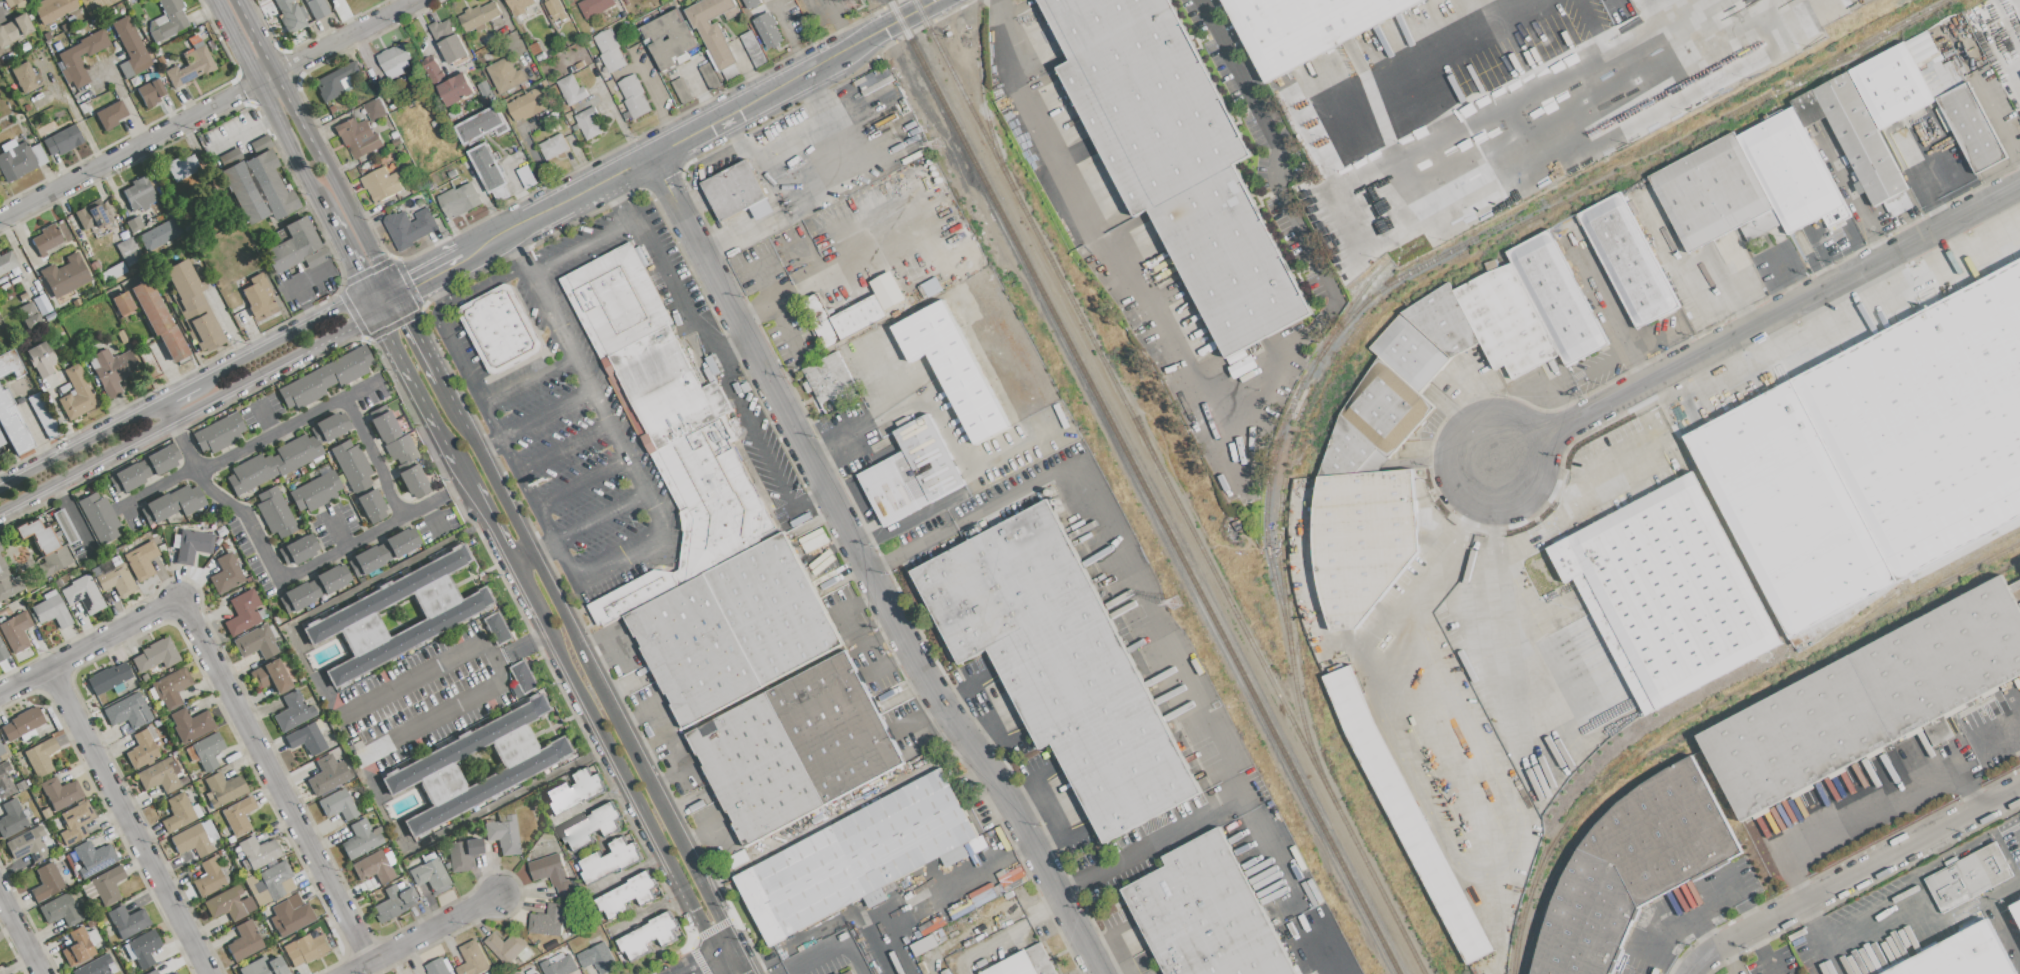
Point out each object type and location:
road: (872, 0)
building: (749, 2)
power tower: (858, 3)
railway: (979, 3)
building: (518, 6)
building: (593, 6)
building: (316, 8)
building: (52, 9)
building: (554, 9)
road: (1786, 9)
building: (290, 14)
building: (478, 15)
building: (167, 20)
building: (1304, 28)
building: (13, 29)
building: (767, 29)
building: (714, 32)
road: (244, 37)
building: (667, 39)
building: (447, 40)
road: (1532, 42)
building: (130, 48)
building: (752, 48)
building: (608, 49)
road: (1436, 57)
building: (393, 59)
road: (1656, 61)
building: (70, 62)
building: (190, 66)
building: (503, 73)
building: (25, 77)
building: (336, 80)
building: (447, 81)
building: (570, 89)
building: (150, 92)
building: (632, 95)
building: (1925, 95)
road: (653, 96)
road: (822, 100)
building: (527, 103)
road: (202, 106)
building: (373, 109)
road: (71, 110)
building: (109, 114)
road: (1996, 119)
building: (587, 122)
building: (481, 124)
road: (700, 128)
road: (242, 133)
building: (356, 136)
building: (61, 140)
building: (552, 145)
power tower: (937, 145)
road: (291, 147)
road: (1275, 148)
road: (750, 151)
building: (18, 159)
building: (1176, 159)
building: (181, 167)
building: (489, 170)
building: (1778, 171)
road: (333, 179)
building: (381, 183)
road: (517, 184)
building: (257, 188)
building: (736, 192)
road: (1451, 192)
building: (138, 194)
road: (1930, 194)
building: (458, 199)
road: (1856, 202)
building: (91, 214)
road: (921, 219)
road: (775, 221)
building: (408, 226)
building: (159, 234)
building: (45, 239)
road: (581, 242)
road: (1100, 242)
building: (295, 247)
building: (128, 251)
building: (1627, 259)
road: (350, 260)
building: (6, 261)
railway: (1447, 263)
road: (828, 270)
traffic signals: (356, 272)
building: (65, 275)
road: (428, 275)
traffic signals: (412, 284)
road: (439, 284)
road: (292, 286)
building: (886, 290)
road: (543, 294)
building: (257, 295)
road: (382, 299)
building: (121, 302)
building: (192, 305)
road: (432, 306)
railway: (1357, 309)
road: (779, 310)
building: (28, 315)
road: (1613, 316)
building: (844, 318)
building: (157, 319)
road: (380, 319)
traffic signals: (407, 321)
road: (1758, 323)
traffic signals: (354, 327)
building: (500, 328)
road: (415, 336)
road: (282, 339)
road: (734, 353)
road: (715, 357)
building: (39, 359)
building: (9, 363)
building: (952, 366)
building: (111, 369)
road: (896, 375)
building: (827, 378)
building: (322, 379)
road: (1256, 379)
road: (529, 381)
building: (76, 393)
road: (179, 393)
road: (429, 407)
road: (1481, 410)
road: (168, 411)
road: (190, 412)
road: (457, 412)
road: (533, 418)
building: (1377, 421)
building: (12, 425)
road: (495, 426)
building: (218, 433)
road: (81, 444)
road: (562, 444)
road: (252, 445)
building: (398, 452)
building: (1877, 454)
building: (285, 455)
road: (819, 455)
road: (371, 457)
road: (965, 466)
building: (143, 469)
building: (911, 472)
road: (582, 480)
building: (358, 481)
road: (643, 481)
railway: (1170, 486)
railway: (1144, 487)
building: (314, 491)
road: (530, 496)
road: (223, 503)
road: (656, 508)
building: (274, 512)
building: (696, 512)
building: (98, 518)
road: (490, 518)
road: (374, 529)
building: (36, 535)
building: (192, 545)
building: (296, 550)
building: (381, 552)
road: (619, 554)
road: (523, 555)
building: (55, 560)
building: (140, 560)
road: (564, 561)
road: (866, 571)
building: (225, 574)
railway: (1921, 577)
building: (6, 581)
building: (314, 588)
building: (1665, 592)
building: (81, 594)
road: (1489, 596)
power tower: (1176, 601)
building: (50, 611)
building: (242, 613)
building: (399, 615)
road: (1154, 620)
road: (1537, 622)
building: (497, 628)
building: (15, 632)
road: (530, 639)
building: (255, 643)
road: (89, 649)
road: (611, 649)
building: (2, 652)
building: (154, 655)
building: (1059, 666)
railway: (1816, 666)
building: (270, 676)
road: (310, 676)
building: (522, 676)
building: (108, 678)
road: (975, 679)
railway: (1754, 682)
building: (170, 688)
road: (953, 690)
road: (607, 692)
building: (1866, 700)
building: (126, 711)
building: (292, 712)
road: (977, 716)
building: (21, 723)
building: (189, 725)
road: (1997, 736)
road: (1008, 738)
building: (305, 739)
road: (662, 741)
road: (650, 745)
building: (794, 747)
building: (141, 748)
road: (989, 748)
building: (1, 750)
building: (206, 750)
road: (614, 750)
building: (40, 757)
building: (477, 764)
building: (159, 775)
building: (327, 775)
building: (5, 782)
road: (274, 782)
building: (222, 788)
building: (573, 791)
building: (60, 793)
railway: (1568, 795)
building: (336, 805)
road: (1870, 808)
building: (177, 812)
building: (237, 815)
building: (11, 819)
building: (74, 822)
road: (130, 822)
building: (589, 826)
road: (389, 830)
road: (706, 831)
road: (1452, 831)
building: (502, 835)
building: (360, 839)
building: (191, 840)
building: (26, 845)
building: (257, 852)
building: (461, 854)
railway: (1565, 855)
building: (92, 857)
building: (855, 858)
building: (609, 860)
building: (1630, 867)
building: (551, 872)
building: (209, 877)
building: (1967, 877)
building: (46, 882)
road: (962, 882)
building: (272, 883)
road: (1860, 884)
building: (107, 885)
building: (625, 895)
building: (394, 902)
building: (2015, 902)
building: (228, 904)
building: (59, 910)
building: (1204, 913)
building: (289, 915)
building: (547, 920)
building: (126, 921)
road: (20, 932)
road: (421, 935)
road: (1008, 935)
building: (647, 936)
building: (243, 941)
road: (726, 942)
building: (506, 947)
building: (77, 948)
building: (142, 948)
building: (304, 949)
road: (831, 949)
building: (1959, 955)
building: (597, 957)
road: (745, 957)
building: (471, 959)
road: (689, 959)
road: (723, 959)
building: (1022, 963)
building: (559, 965)
building: (95, 967)
building: (263, 967)
building: (437, 967)
road: (1096, 971)
building: (151, 972)
building: (846, 972)
building: (173, 973)
building: (536, 973)
road: (782, 973)

